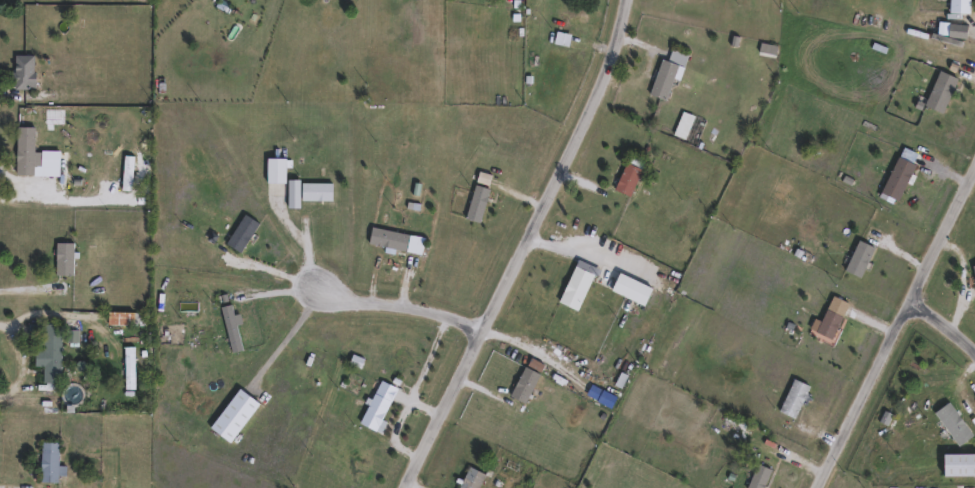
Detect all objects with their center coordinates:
building: (266, 0)
building: (963, 7)
building: (28, 73)
building: (670, 77)
building: (945, 93)
building: (30, 154)
building: (281, 172)
building: (632, 178)
building: (901, 180)
building: (320, 193)
building: (480, 205)
building: (246, 236)
building: (391, 241)
road: (526, 247)
building: (67, 261)
building: (862, 261)
road: (28, 287)
building: (579, 290)
building: (636, 291)
road: (398, 307)
building: (130, 320)
road: (20, 322)
building: (835, 322)
road: (945, 328)
road: (897, 332)
building: (53, 355)
building: (132, 370)
building: (527, 387)
road: (484, 391)
building: (797, 401)
building: (381, 407)
building: (956, 426)
road: (828, 432)
road: (796, 457)
building: (53, 464)
building: (762, 478)
building: (475, 479)

